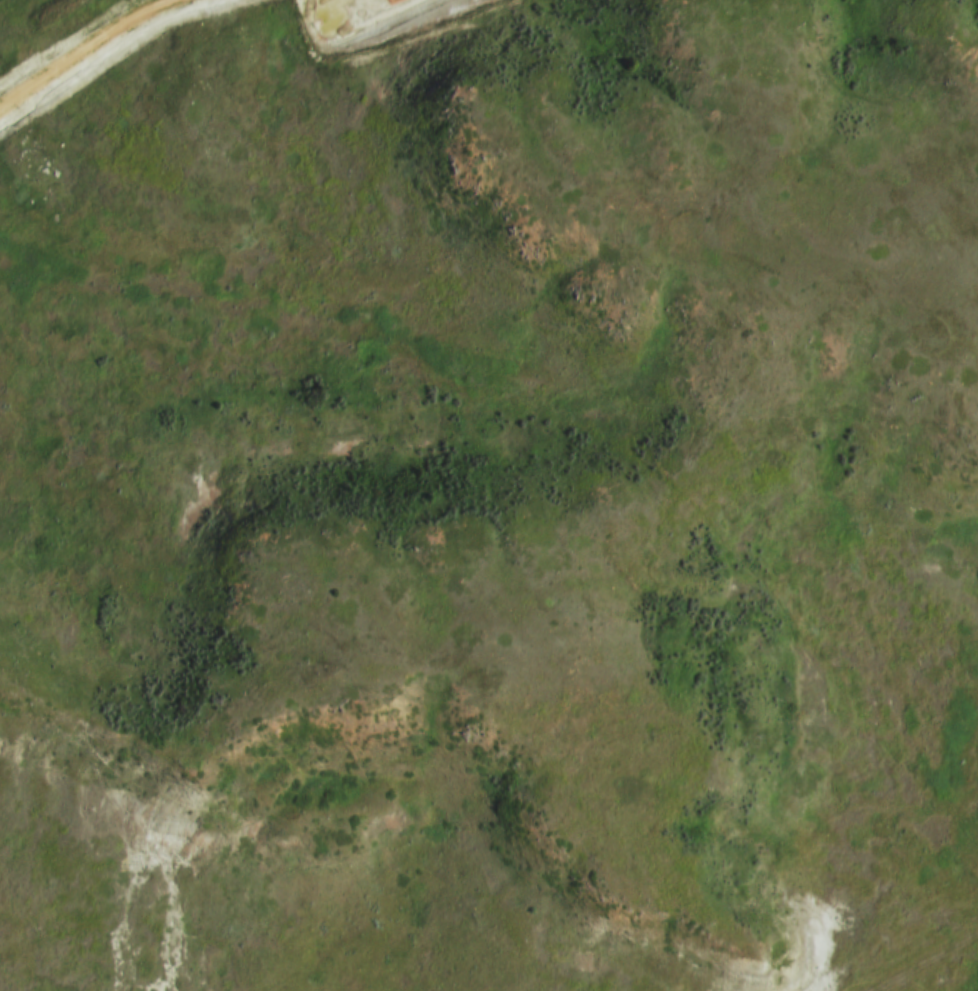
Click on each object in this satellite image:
road: (923, 961)

